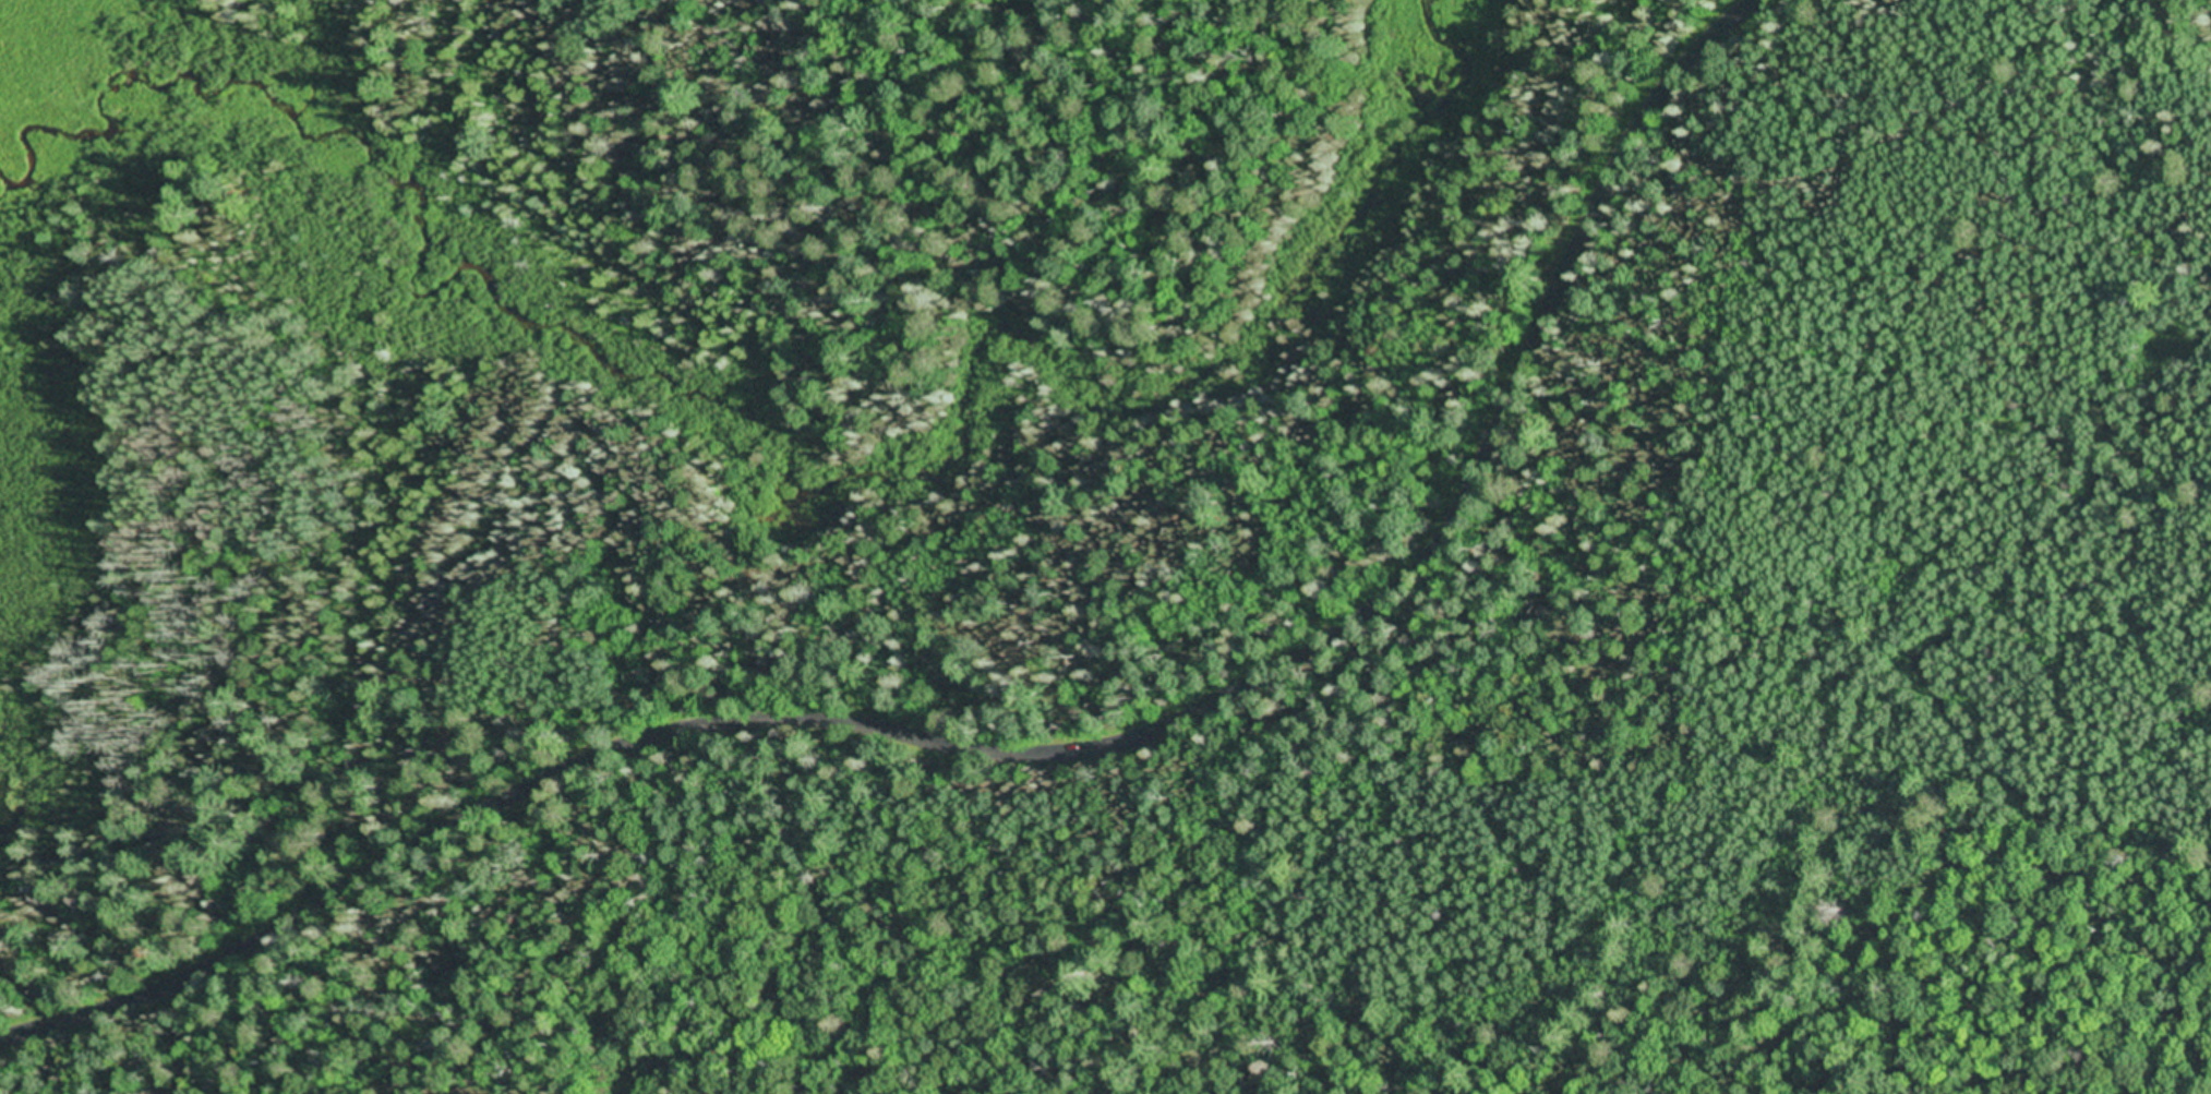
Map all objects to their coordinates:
road: (1033, 746)

